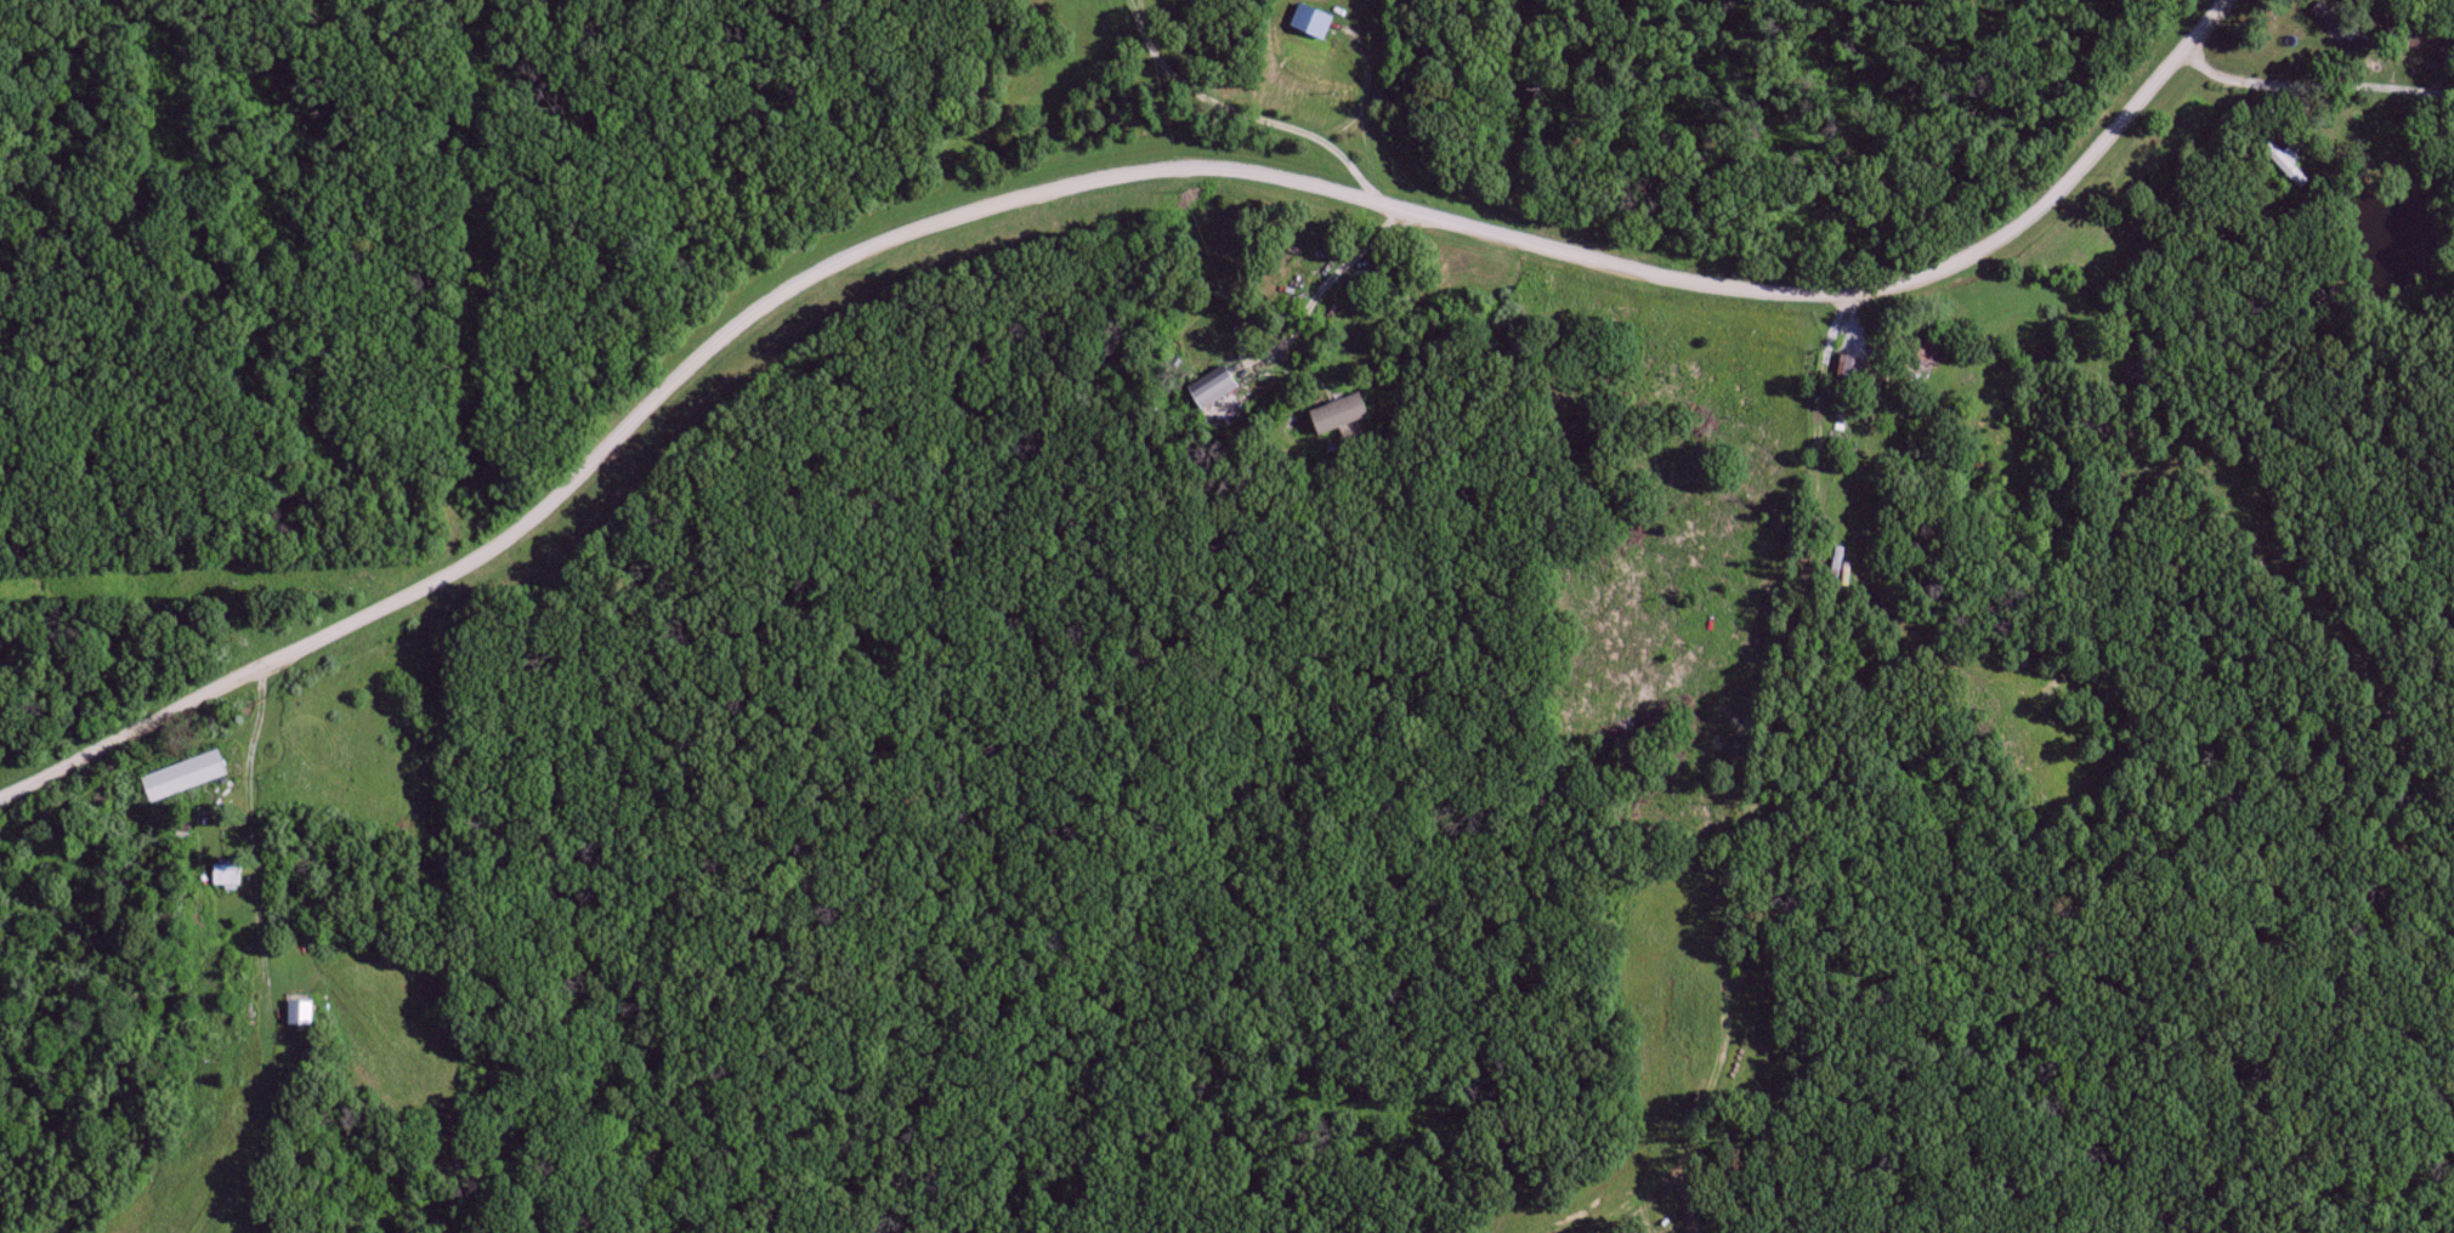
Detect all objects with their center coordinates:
building: (1310, 19)
building: (2289, 167)
road: (1089, 181)
building: (1219, 341)
building: (1848, 368)
building: (1219, 385)
building: (1338, 414)
building: (186, 774)
building: (228, 875)
building: (302, 1012)

